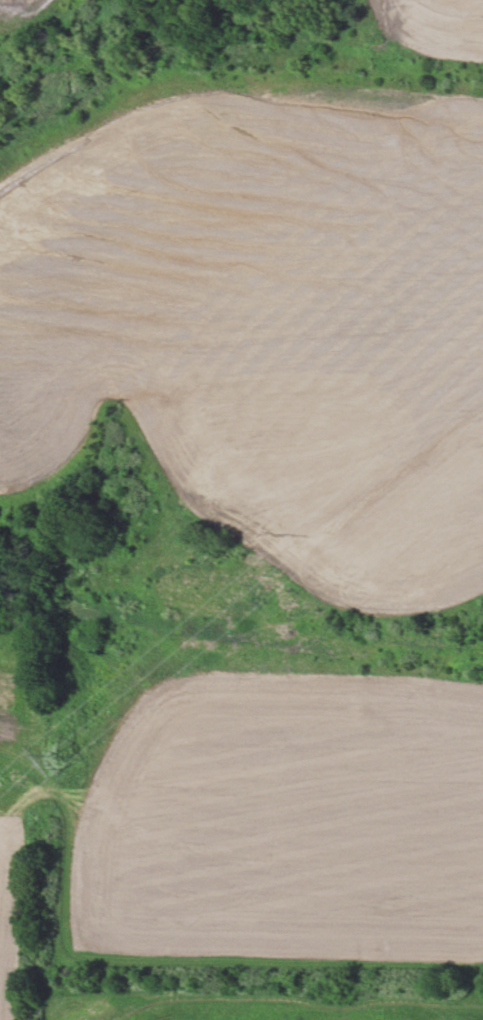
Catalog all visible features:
crop: (251, 479)
power tower: (61, 768)
crop: (9, 911)
crop: (247, 1006)

